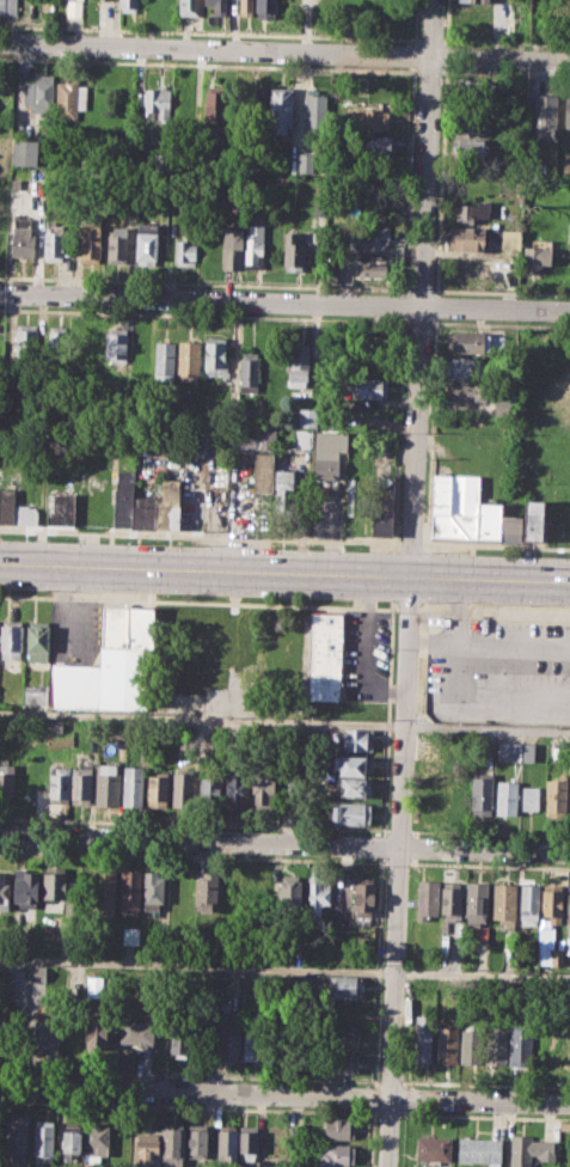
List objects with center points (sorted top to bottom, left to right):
building: (477, 0)
building: (129, 5)
building: (7, 6)
building: (165, 6)
building: (219, 6)
building: (74, 7)
building: (190, 7)
building: (246, 7)
building: (266, 8)
road: (284, 53)
building: (476, 91)
building: (38, 93)
building: (71, 98)
building: (158, 103)
building: (253, 104)
building: (214, 106)
building: (281, 109)
building: (314, 112)
building: (566, 112)
building: (544, 115)
building: (369, 118)
building: (470, 129)
building: (378, 145)
building: (470, 148)
building: (24, 151)
building: (307, 163)
building: (472, 214)
building: (568, 232)
building: (23, 237)
building: (367, 239)
building: (467, 239)
building: (53, 243)
building: (91, 243)
building: (147, 243)
building: (69, 245)
building: (119, 245)
building: (255, 246)
building: (186, 248)
building: (231, 249)
building: (294, 251)
building: (539, 259)
building: (376, 269)
building: (330, 274)
road: (284, 303)
building: (465, 342)
building: (495, 342)
building: (56, 343)
building: (26, 344)
building: (116, 346)
building: (215, 355)
building: (189, 360)
building: (164, 361)
building: (299, 365)
building: (465, 367)
building: (249, 372)
building: (372, 389)
building: (467, 389)
building: (502, 408)
building: (245, 414)
building: (307, 417)
building: (302, 439)
building: (202, 441)
building: (256, 453)
building: (329, 453)
building: (283, 483)
building: (354, 495)
building: (124, 497)
building: (7, 505)
building: (168, 505)
building: (382, 506)
building: (454, 506)
building: (60, 508)
building: (143, 512)
building: (25, 513)
building: (533, 519)
building: (497, 524)
road: (200, 534)
road: (410, 544)
road: (495, 546)
road: (284, 572)
road: (405, 582)
road: (198, 601)
road: (406, 609)
road: (454, 610)
road: (492, 610)
building: (11, 639)
building: (37, 641)
building: (271, 644)
road: (488, 646)
road: (363, 649)
parking lot: (366, 654)
building: (324, 655)
building: (111, 665)
parking lot: (497, 670)
building: (35, 695)
road: (484, 697)
road: (284, 721)
road: (387, 721)
building: (54, 725)
building: (357, 739)
building: (557, 747)
building: (516, 751)
building: (354, 764)
building: (7, 781)
building: (108, 783)
building: (59, 784)
building: (81, 784)
building: (134, 786)
building: (183, 787)
building: (209, 787)
building: (263, 787)
building: (355, 787)
building: (158, 788)
building: (235, 790)
building: (435, 792)
building: (556, 793)
building: (482, 794)
building: (507, 796)
building: (529, 796)
building: (569, 802)
building: (350, 812)
road: (194, 823)
road: (399, 830)
road: (490, 832)
road: (284, 844)
road: (382, 845)
building: (54, 888)
building: (25, 890)
building: (5, 891)
building: (104, 891)
building: (129, 891)
building: (154, 891)
building: (207, 891)
building: (263, 891)
building: (290, 892)
building: (317, 897)
building: (366, 897)
building: (428, 898)
building: (451, 902)
building: (477, 902)
building: (504, 903)
building: (552, 904)
building: (531, 905)
building: (568, 905)
building: (131, 935)
building: (482, 935)
building: (509, 940)
building: (568, 945)
building: (557, 955)
road: (284, 967)
road: (379, 970)
building: (39, 973)
building: (5, 979)
building: (348, 985)
building: (96, 986)
building: (226, 1004)
building: (136, 1032)
building: (97, 1034)
building: (180, 1034)
building: (564, 1035)
building: (343, 1037)
building: (2, 1038)
building: (47, 1038)
building: (424, 1038)
building: (229, 1041)
building: (252, 1041)
building: (447, 1044)
building: (521, 1045)
building: (472, 1046)
building: (496, 1046)
building: (341, 1062)
road: (388, 1080)
road: (485, 1082)
road: (284, 1094)
building: (339, 1128)
building: (295, 1132)
building: (16, 1136)
building: (96, 1138)
building: (197, 1141)
building: (43, 1142)
building: (71, 1142)
building: (249, 1142)
building: (226, 1143)
building: (173, 1145)
building: (146, 1148)
building: (434, 1148)
building: (479, 1150)
building: (529, 1150)
building: (337, 1154)

